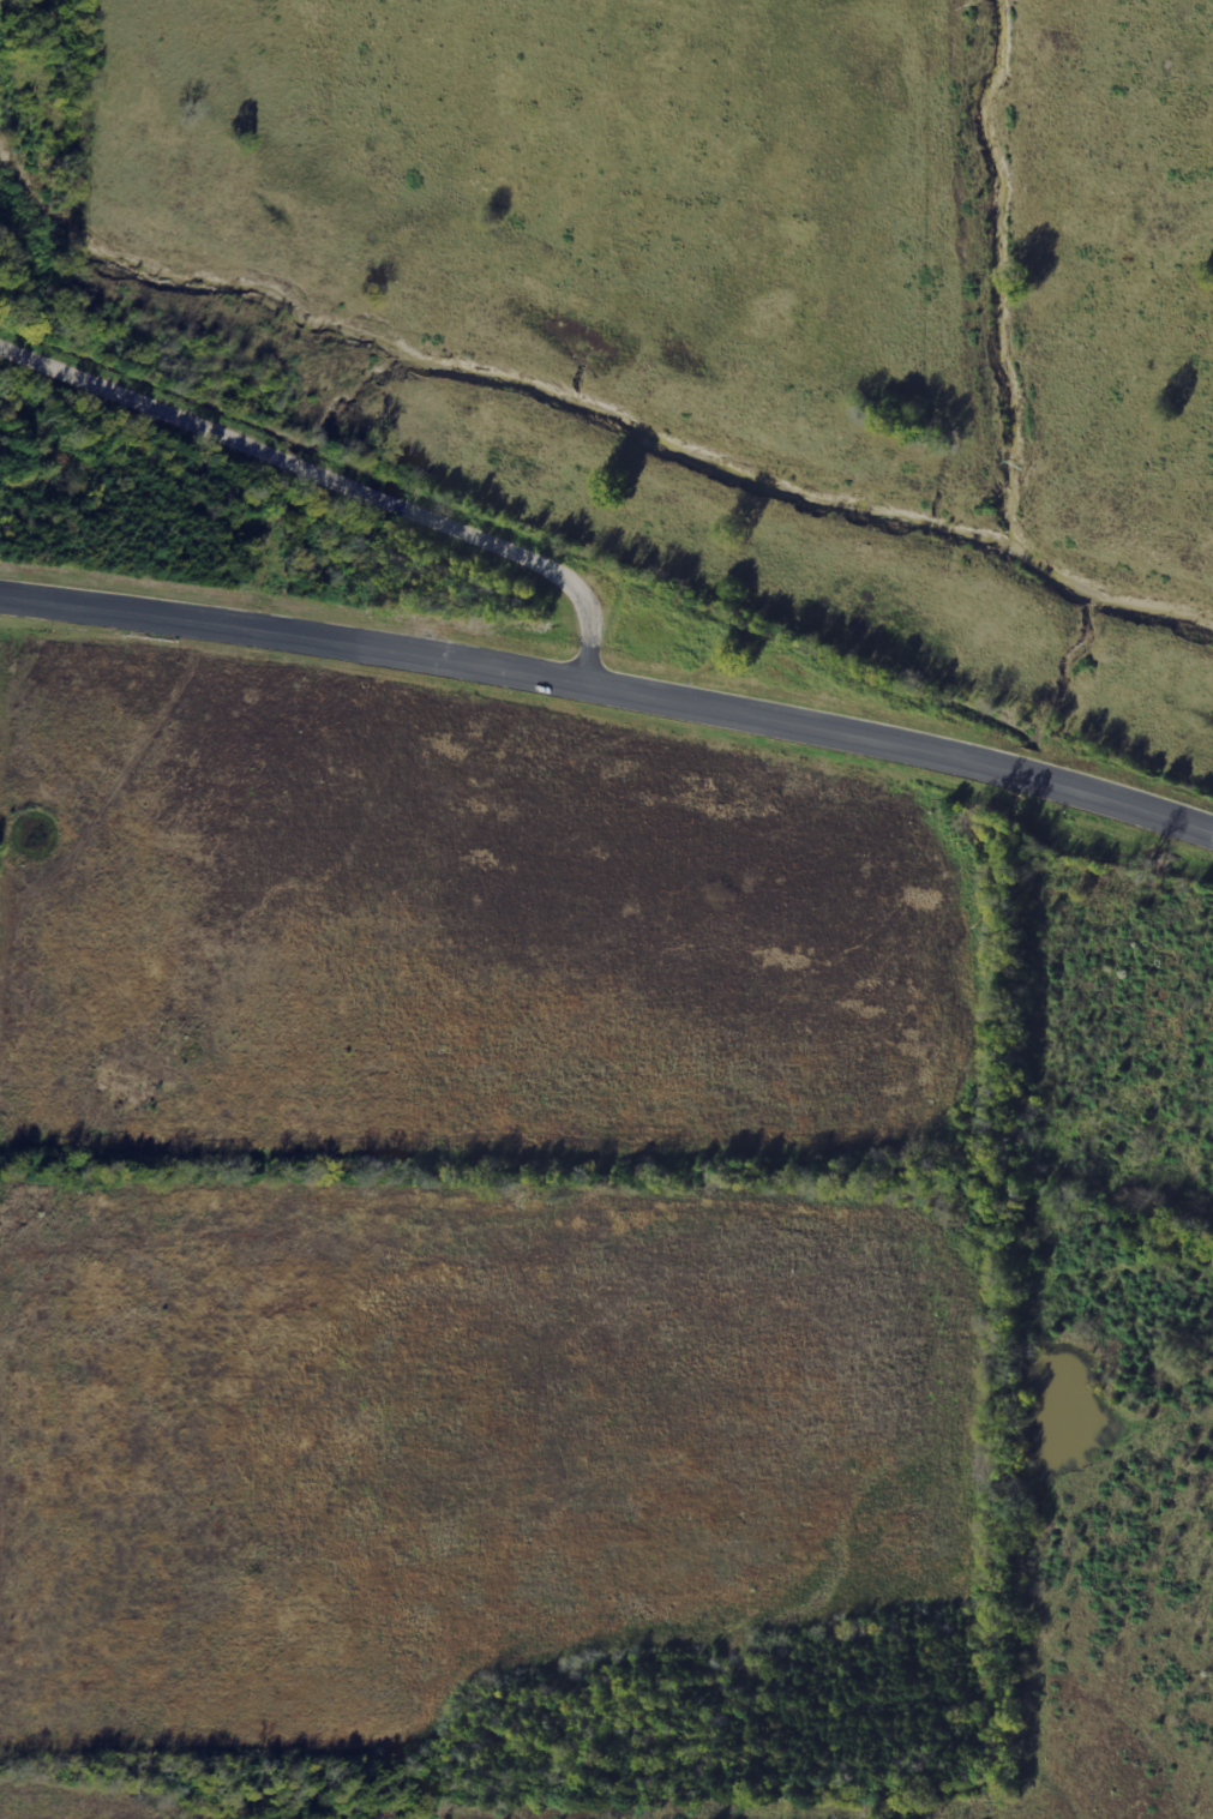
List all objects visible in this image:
road: (331, 478)
road: (288, 637)
road: (896, 745)

